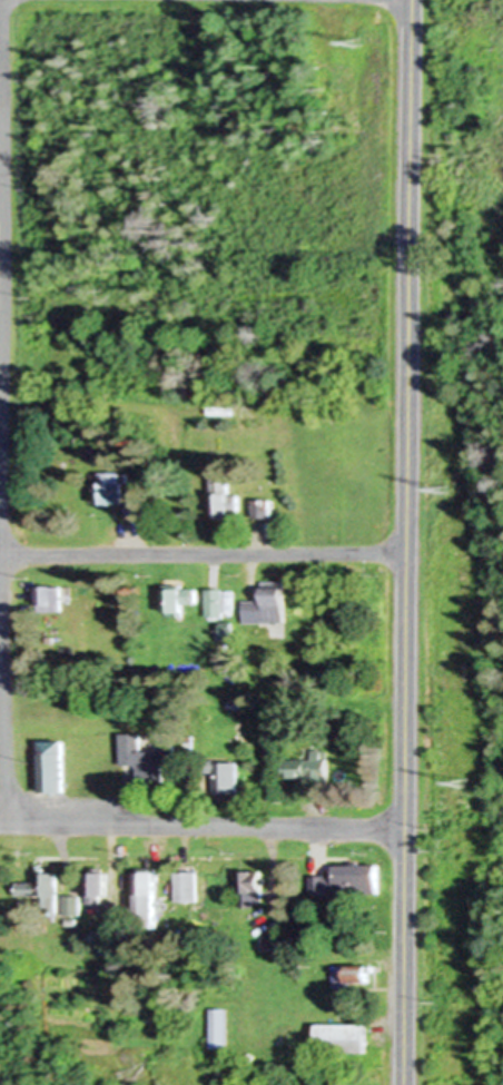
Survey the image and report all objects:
building: (115, 485)
road: (2, 486)
building: (223, 495)
building: (139, 505)
building: (263, 507)
road: (408, 542)
road: (204, 552)
building: (51, 596)
building: (180, 599)
building: (217, 601)
building: (268, 604)
building: (150, 758)
building: (52, 765)
building: (309, 765)
building: (228, 776)
road: (203, 820)
building: (349, 879)
building: (99, 886)
building: (187, 886)
building: (254, 887)
building: (43, 889)
building: (148, 896)
building: (71, 909)
building: (112, 939)
building: (355, 975)
building: (218, 1027)
building: (345, 1037)

